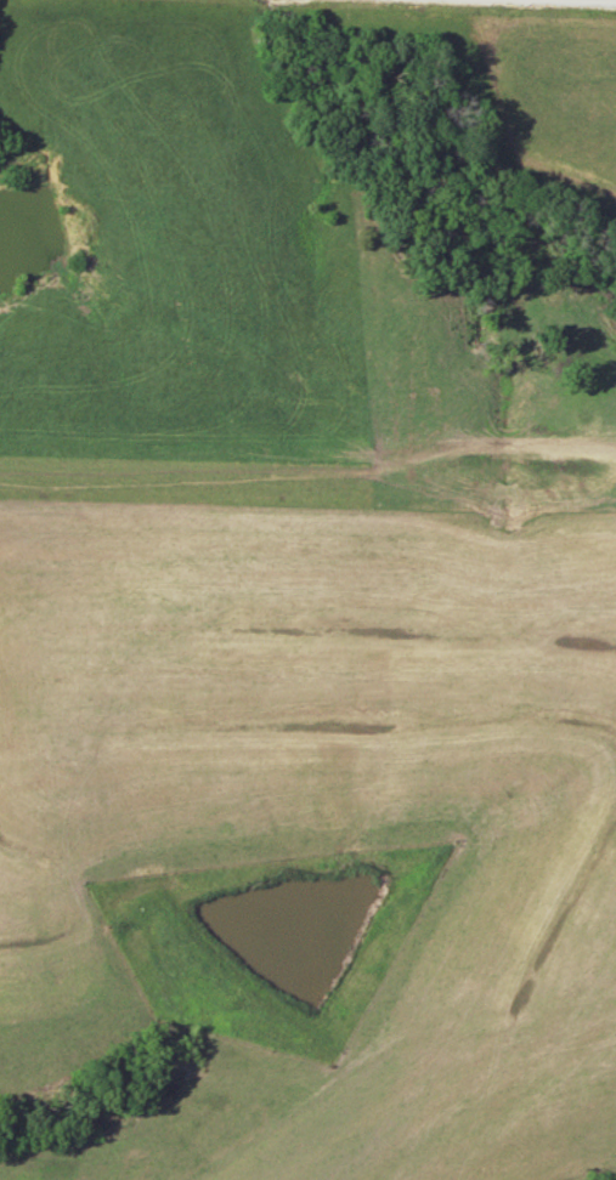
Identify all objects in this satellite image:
road: (583, 0)

